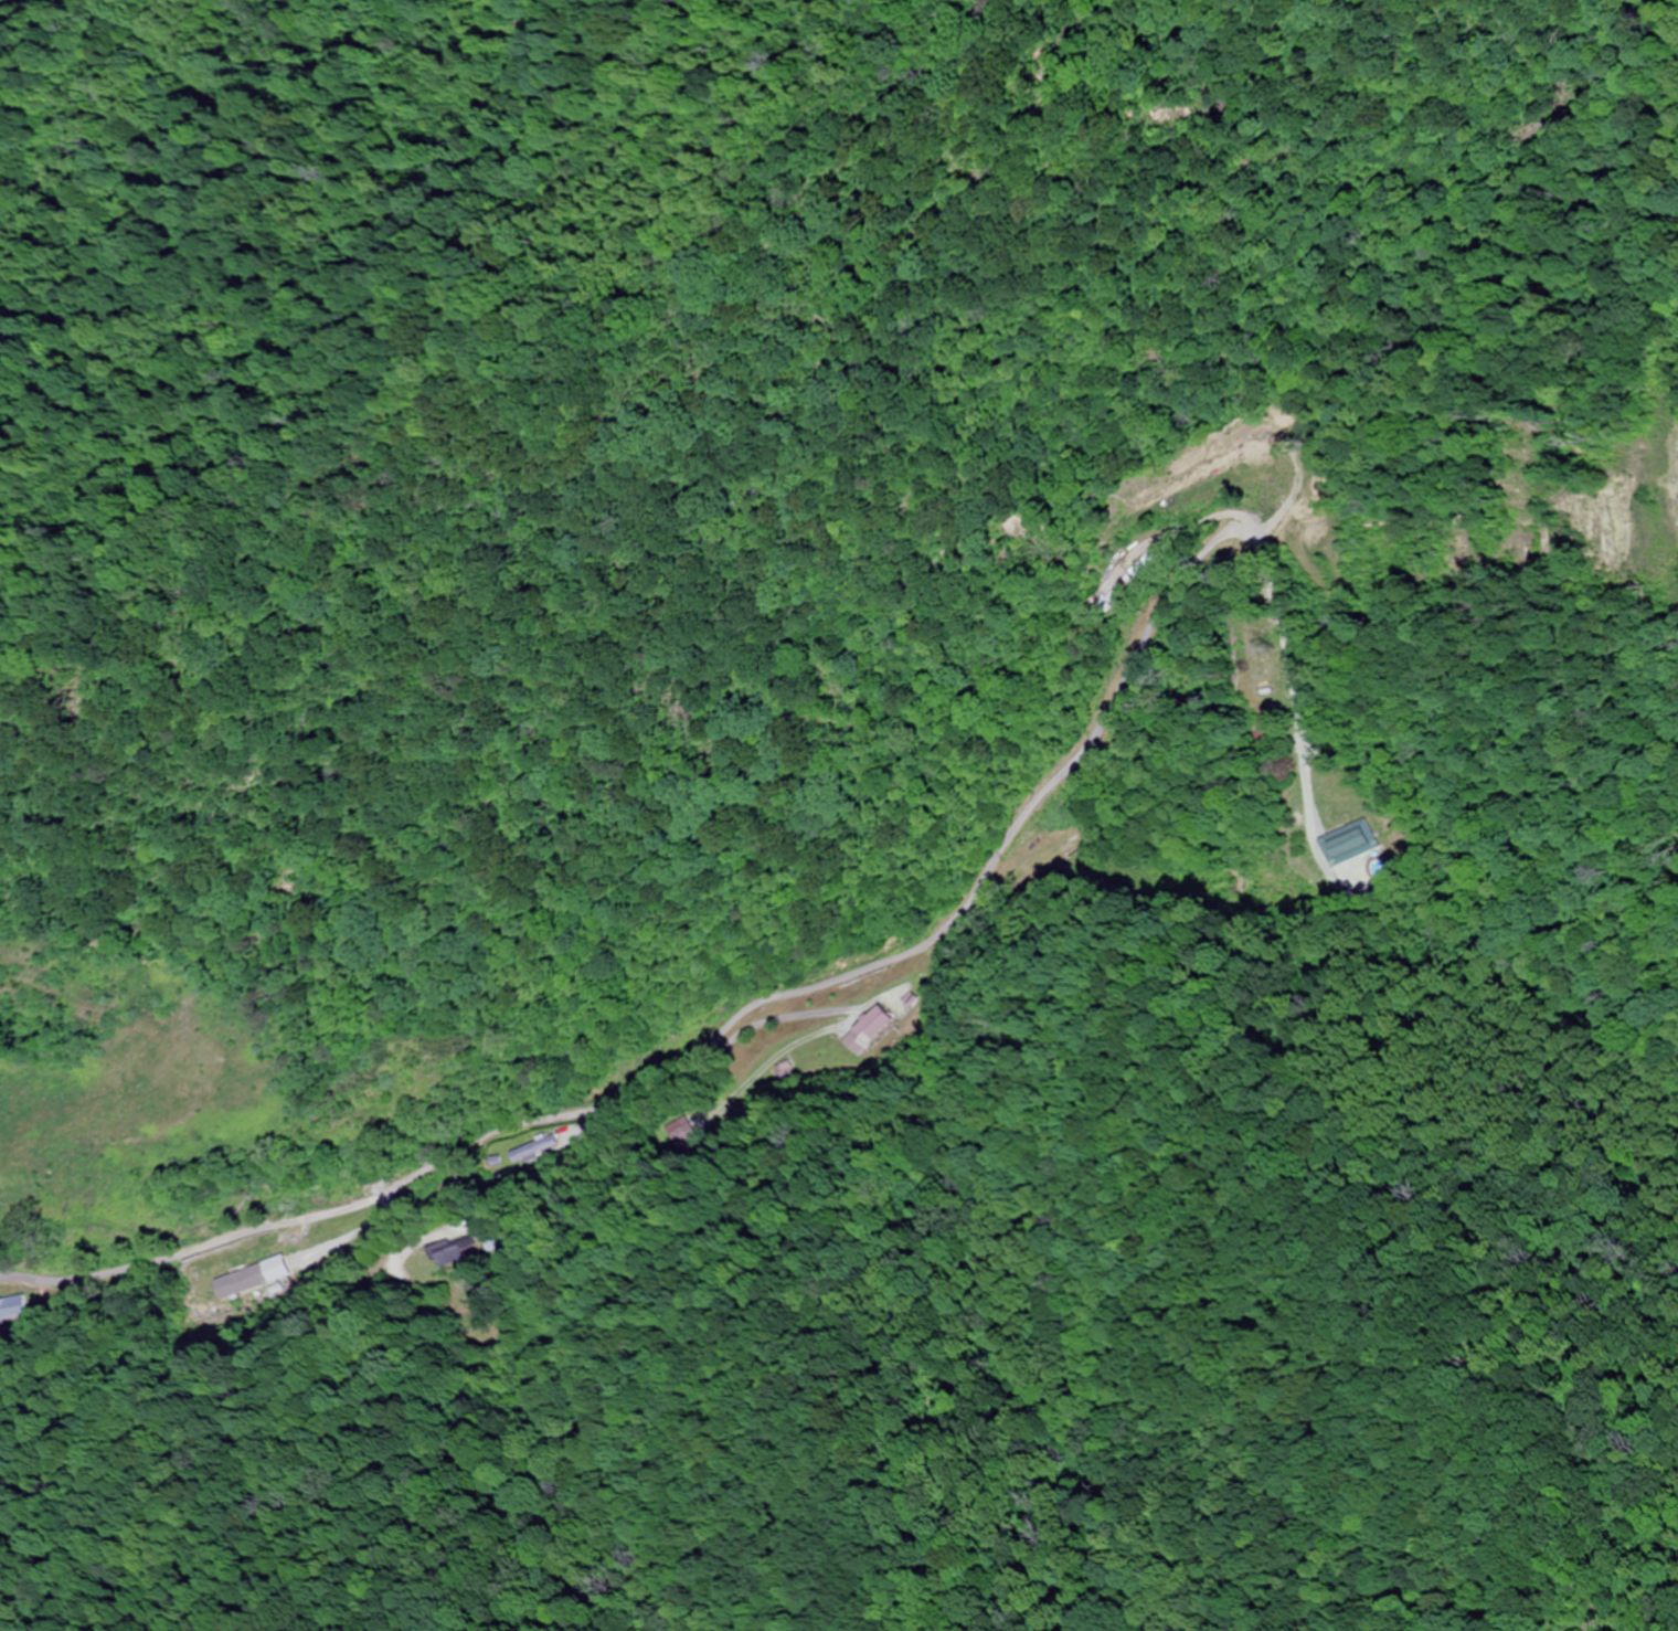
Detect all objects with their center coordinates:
building: (1126, 586)
building: (1066, 841)
building: (1349, 844)
road: (882, 959)
building: (878, 1030)
building: (463, 1250)
building: (10, 1309)

